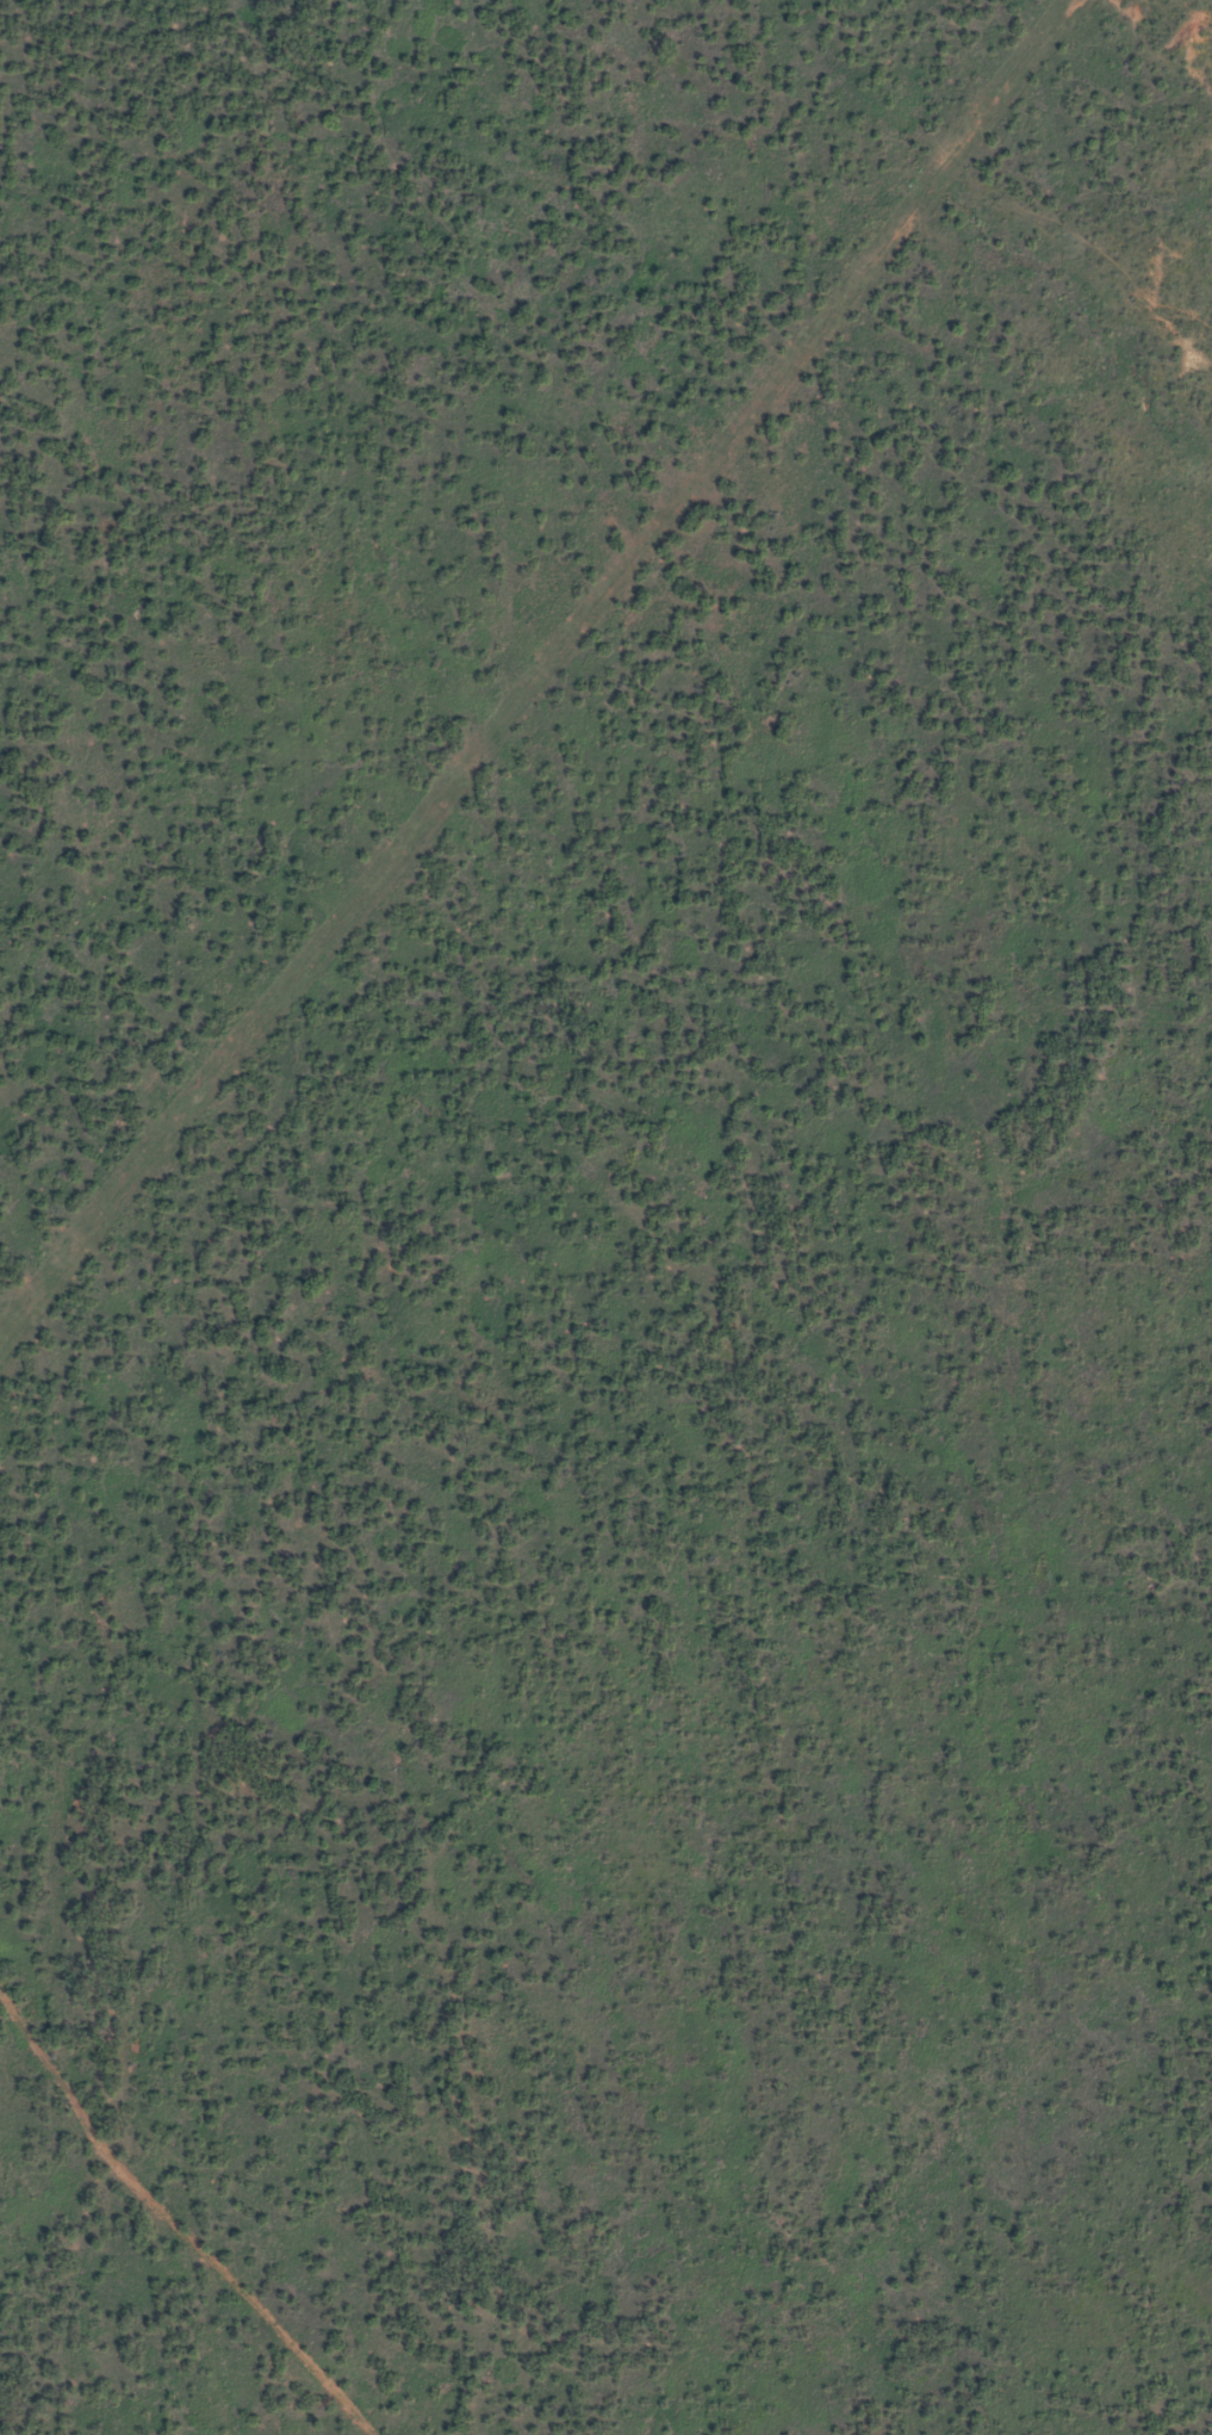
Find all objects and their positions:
road: (162, 2235)

